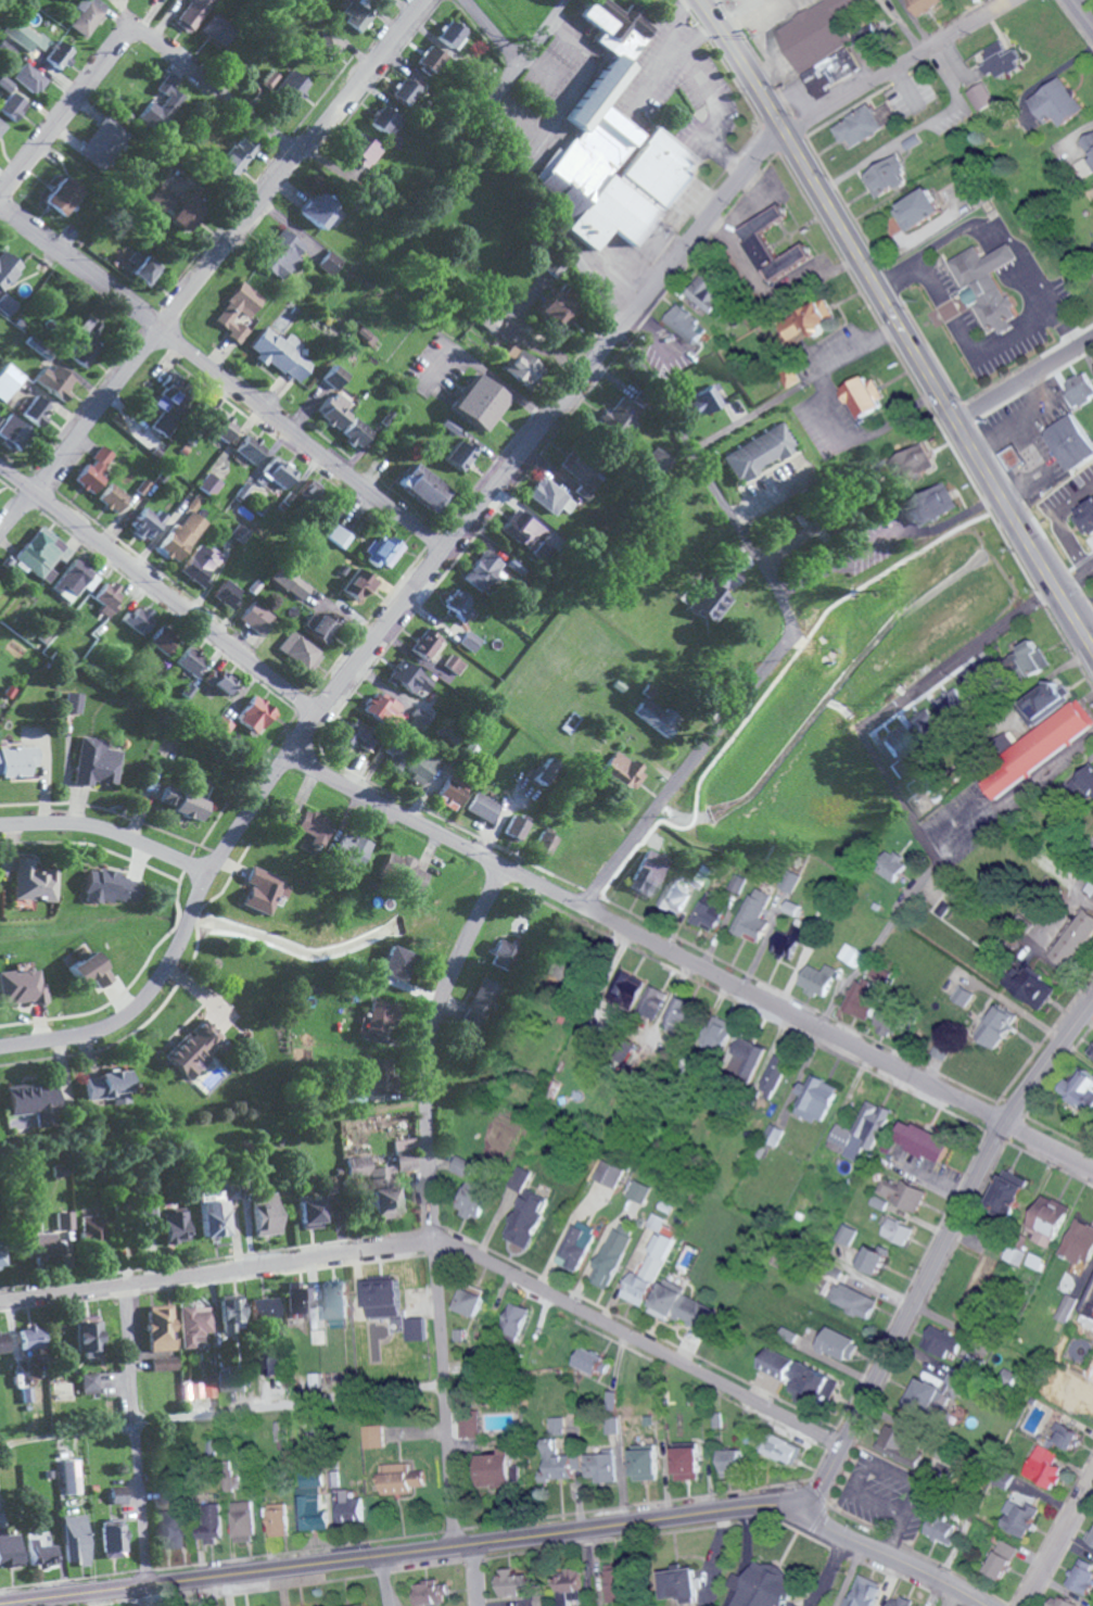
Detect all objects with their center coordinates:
building: (925, 4)
road: (1083, 12)
building: (193, 14)
building: (87, 15)
building: (356, 15)
building: (218, 29)
road: (487, 31)
road: (539, 31)
road: (683, 33)
building: (25, 35)
building: (452, 35)
building: (810, 36)
building: (866, 36)
building: (323, 40)
building: (59, 54)
building: (996, 59)
building: (430, 60)
road: (888, 64)
building: (828, 72)
road: (193, 73)
building: (29, 78)
building: (5, 83)
building: (291, 86)
building: (406, 90)
building: (981, 96)
building: (1056, 102)
building: (12, 106)
road: (61, 109)
road: (715, 111)
building: (385, 121)
building: (1, 125)
building: (859, 126)
building: (910, 141)
building: (104, 142)
building: (1086, 146)
building: (613, 148)
building: (365, 151)
building: (238, 154)
building: (886, 176)
building: (60, 197)
building: (160, 197)
road: (537, 199)
building: (319, 208)
building: (917, 208)
building: (185, 213)
road: (999, 232)
building: (757, 236)
building: (282, 255)
road: (207, 262)
building: (330, 262)
building: (144, 270)
building: (7, 281)
building: (984, 284)
building: (711, 295)
building: (557, 309)
building: (238, 311)
building: (808, 318)
building: (488, 320)
building: (687, 323)
road: (899, 324)
building: (365, 336)
road: (973, 338)
building: (87, 341)
building: (281, 354)
building: (520, 367)
building: (789, 375)
building: (334, 377)
building: (9, 381)
building: (53, 381)
road: (221, 381)
road: (1024, 383)
road: (505, 388)
building: (1078, 389)
building: (860, 396)
building: (704, 399)
building: (479, 403)
building: (167, 406)
building: (335, 409)
building: (35, 410)
building: (615, 418)
building: (221, 427)
building: (356, 432)
building: (11, 433)
building: (1066, 442)
building: (250, 448)
building: (759, 452)
building: (460, 455)
building: (1009, 456)
building: (656, 461)
building: (911, 464)
building: (93, 470)
building: (279, 473)
building: (582, 473)
road: (711, 481)
building: (211, 484)
building: (422, 486)
building: (309, 490)
building: (549, 496)
building: (112, 497)
building: (932, 504)
building: (1084, 516)
building: (147, 523)
building: (183, 532)
building: (340, 536)
road: (885, 536)
building: (384, 552)
building: (40, 553)
building: (200, 564)
building: (484, 571)
building: (74, 580)
building: (290, 583)
building: (359, 585)
road: (161, 587)
building: (715, 593)
building: (228, 594)
building: (107, 597)
building: (458, 605)
road: (1083, 614)
road: (397, 615)
building: (256, 617)
building: (138, 619)
building: (323, 628)
building: (162, 638)
building: (471, 641)
building: (430, 645)
building: (301, 650)
building: (1034, 657)
building: (190, 660)
road: (957, 661)
building: (456, 665)
building: (219, 680)
building: (973, 681)
building: (415, 682)
building: (1046, 701)
building: (73, 703)
building: (953, 704)
building: (383, 709)
building: (255, 715)
building: (656, 717)
building: (419, 720)
building: (927, 720)
building: (357, 735)
building: (1041, 747)
building: (897, 748)
building: (395, 758)
building: (16, 760)
building: (96, 762)
building: (421, 767)
road: (686, 767)
building: (624, 771)
building: (546, 772)
building: (1085, 777)
building: (911, 789)
building: (453, 792)
road: (1015, 800)
building: (180, 802)
building: (484, 807)
building: (314, 825)
building: (518, 827)
road: (110, 832)
building: (547, 844)
building: (352, 851)
building: (894, 864)
building: (405, 871)
building: (648, 873)
building: (700, 875)
building: (33, 882)
building: (795, 882)
road: (956, 882)
building: (739, 883)
building: (110, 887)
building: (265, 890)
building: (676, 897)
building: (946, 907)
building: (711, 913)
building: (1034, 913)
road: (1060, 914)
building: (755, 915)
building: (795, 932)
building: (1078, 940)
road: (891, 953)
building: (853, 954)
road: (691, 960)
building: (398, 963)
building: (90, 971)
building: (821, 979)
building: (21, 988)
building: (630, 989)
building: (1037, 989)
building: (965, 996)
building: (652, 1001)
building: (868, 1002)
building: (679, 1016)
building: (376, 1017)
building: (891, 1023)
building: (999, 1026)
building: (720, 1035)
building: (193, 1050)
building: (942, 1050)
building: (1091, 1053)
building: (748, 1058)
building: (376, 1073)
building: (774, 1076)
building: (105, 1088)
building: (1082, 1090)
building: (816, 1099)
building: (31, 1100)
building: (862, 1131)
building: (774, 1135)
building: (924, 1142)
building: (404, 1153)
building: (462, 1165)
building: (59, 1169)
building: (609, 1172)
building: (519, 1176)
building: (374, 1185)
building: (230, 1190)
building: (638, 1190)
building: (902, 1191)
building: (1009, 1193)
road: (432, 1197)
building: (473, 1198)
building: (147, 1206)
building: (310, 1211)
building: (266, 1216)
building: (63, 1219)
building: (1047, 1219)
building: (174, 1226)
building: (899, 1230)
building: (848, 1234)
building: (94, 1236)
building: (37, 1239)
building: (574, 1242)
building: (1080, 1242)
road: (443, 1249)
building: (1016, 1253)
road: (939, 1254)
building: (609, 1256)
building: (874, 1256)
building: (649, 1260)
building: (1038, 1261)
building: (850, 1295)
building: (381, 1297)
building: (297, 1300)
building: (469, 1300)
building: (334, 1301)
building: (682, 1306)
building: (1069, 1306)
building: (263, 1307)
building: (230, 1314)
building: (514, 1318)
building: (193, 1325)
building: (160, 1328)
building: (415, 1328)
building: (788, 1335)
building: (87, 1338)
building: (31, 1340)
building: (2, 1341)
building: (942, 1341)
building: (838, 1343)
building: (594, 1360)
building: (776, 1362)
building: (164, 1363)
building: (271, 1366)
building: (958, 1378)
building: (809, 1380)
building: (231, 1381)
building: (92, 1382)
building: (199, 1389)
building: (929, 1395)
road: (288, 1403)
building: (469, 1422)
building: (557, 1422)
building: (496, 1425)
building: (611, 1425)
building: (1064, 1432)
road: (132, 1433)
building: (372, 1434)
building: (900, 1444)
building: (781, 1447)
building: (644, 1458)
building: (686, 1462)
building: (730, 1462)
building: (559, 1464)
building: (599, 1466)
building: (1045, 1466)
building: (496, 1467)
building: (71, 1476)
building: (399, 1477)
building: (118, 1494)
building: (310, 1496)
building: (349, 1505)
building: (171, 1516)
building: (1020, 1516)
building: (277, 1519)
building: (242, 1520)
building: (209, 1521)
building: (942, 1528)
building: (73, 1538)
road: (503, 1538)
building: (111, 1540)
road: (746, 1540)
building: (1092, 1540)
building: (8, 1548)
road: (1060, 1551)
building: (38, 1552)
building: (1002, 1558)
road: (828, 1569)
road: (471, 1573)
road: (850, 1576)
building: (1082, 1576)
road: (381, 1580)
building: (513, 1582)
road: (736, 1582)
building: (681, 1583)
building: (569, 1585)
building: (763, 1586)
building: (431, 1592)
building: (863, 1592)
road: (728, 1597)
road: (952, 1598)
building: (1062, 1601)
building: (900, 1602)
building: (360, 1605)

